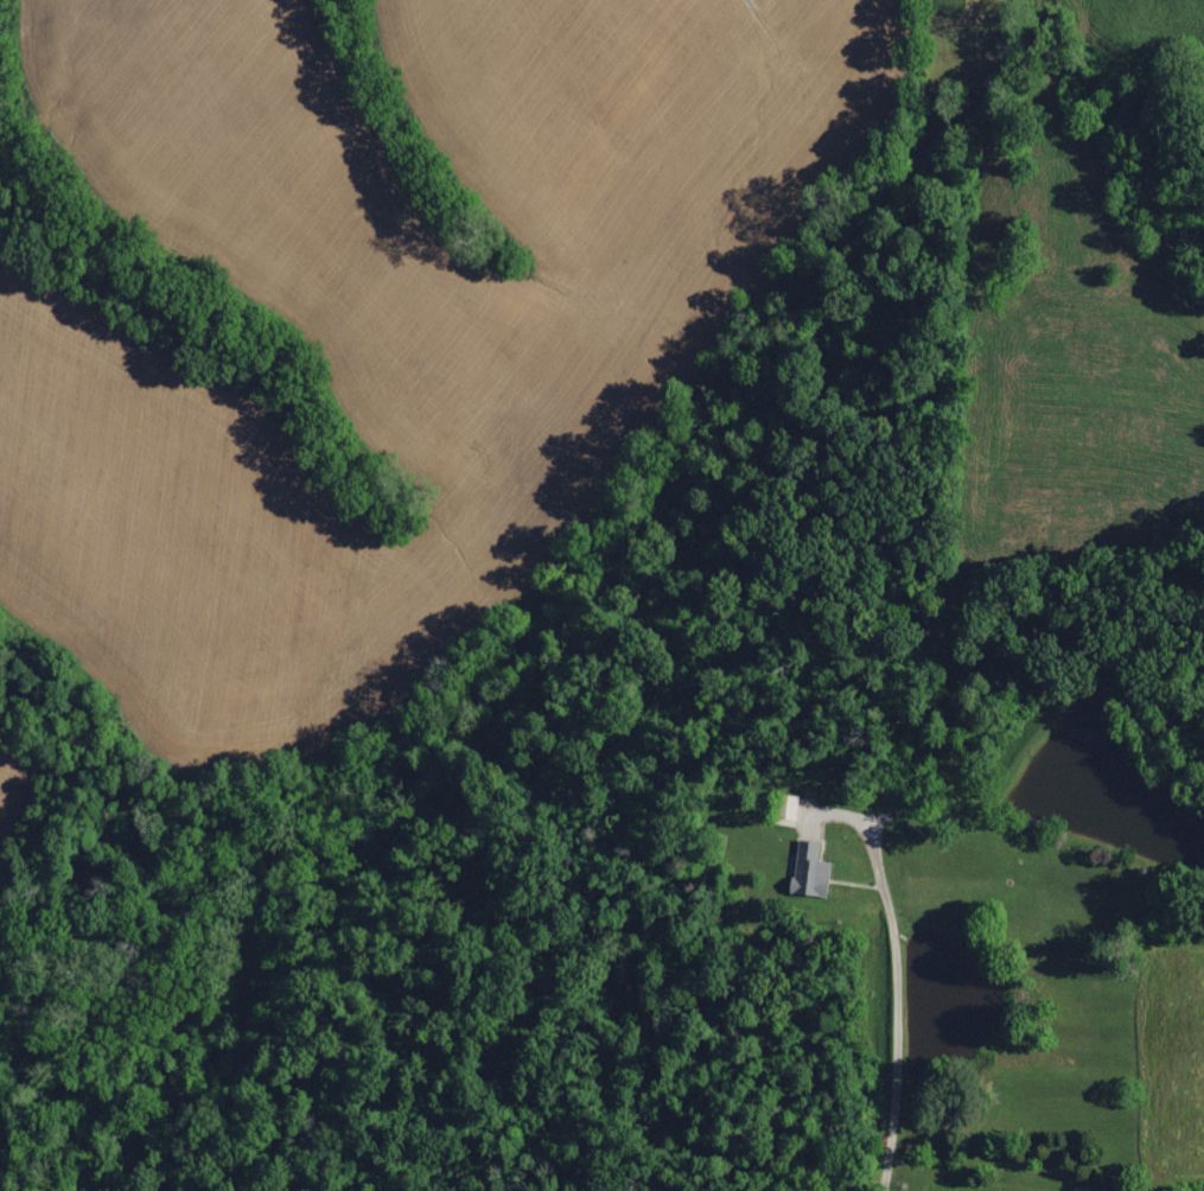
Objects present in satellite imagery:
building: (810, 868)
road: (890, 1015)

